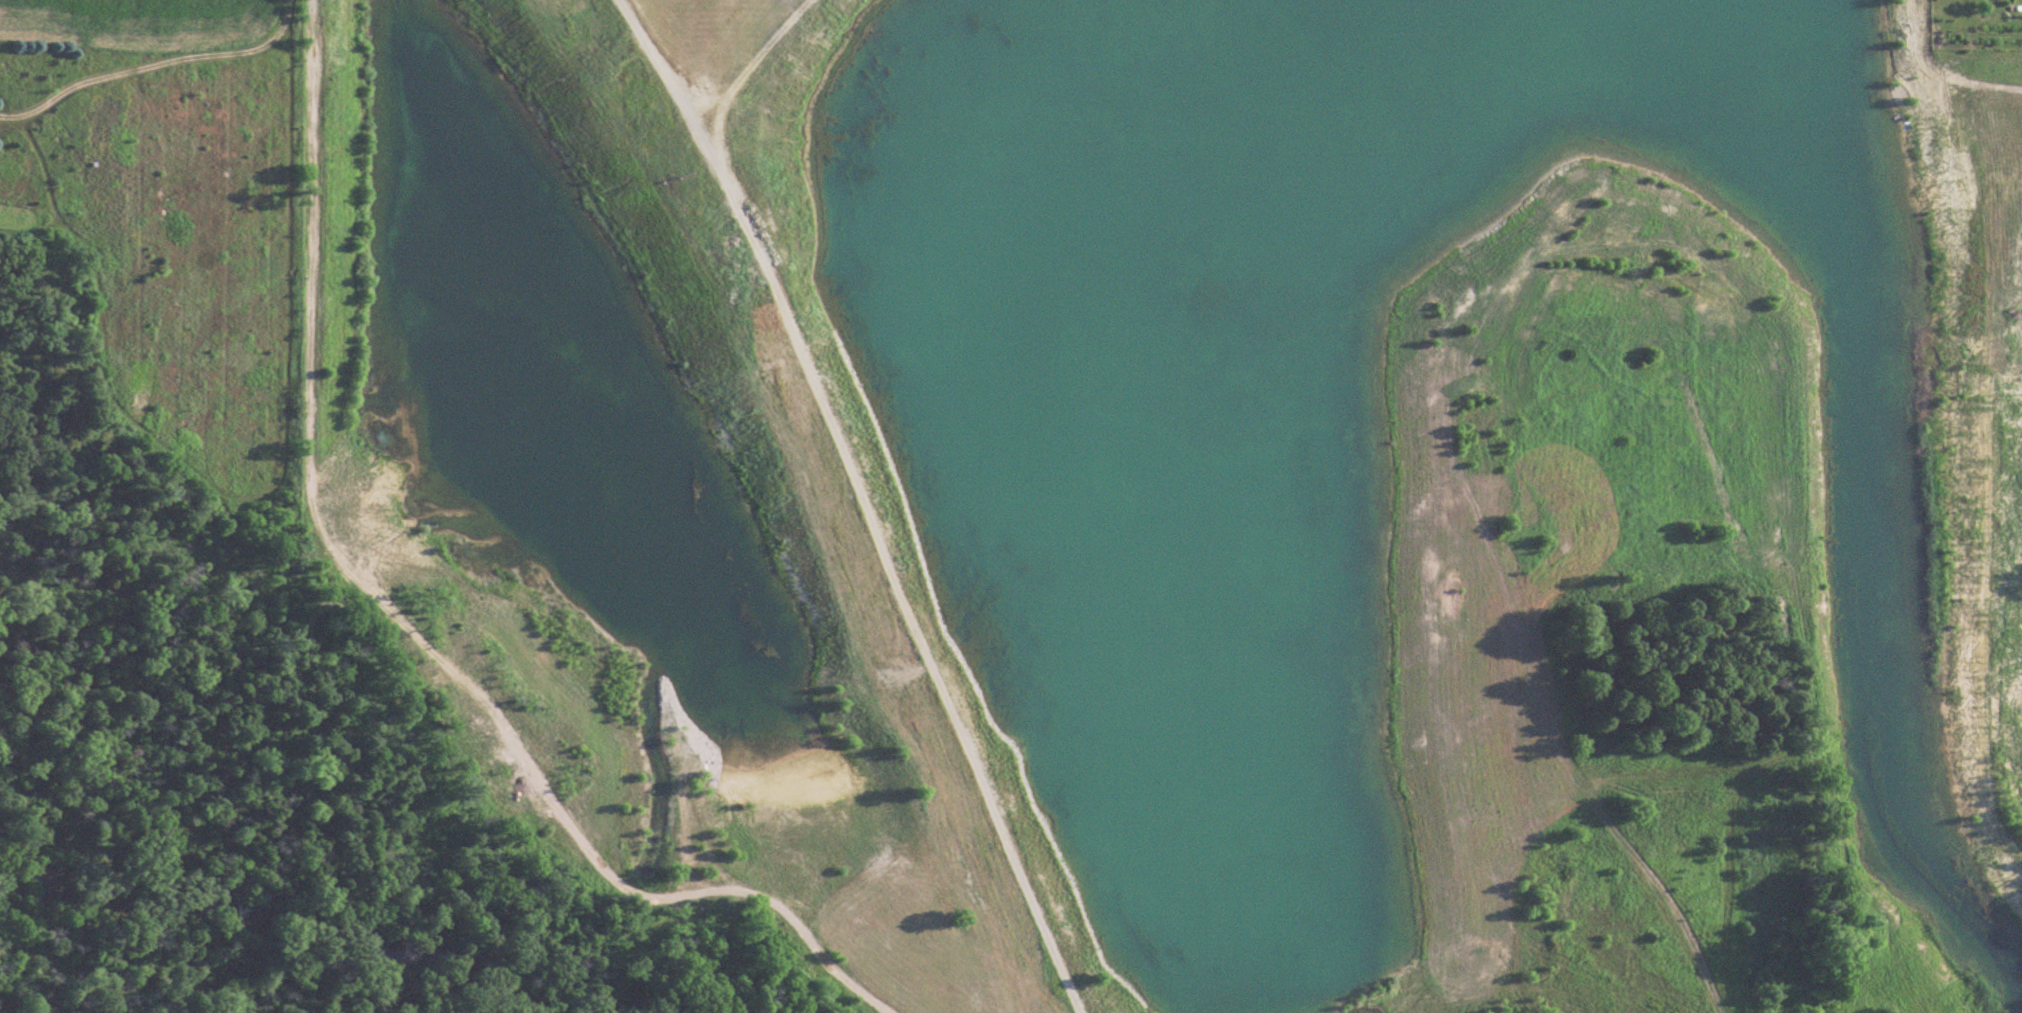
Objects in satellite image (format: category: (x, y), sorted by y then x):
river: (224, 921)

